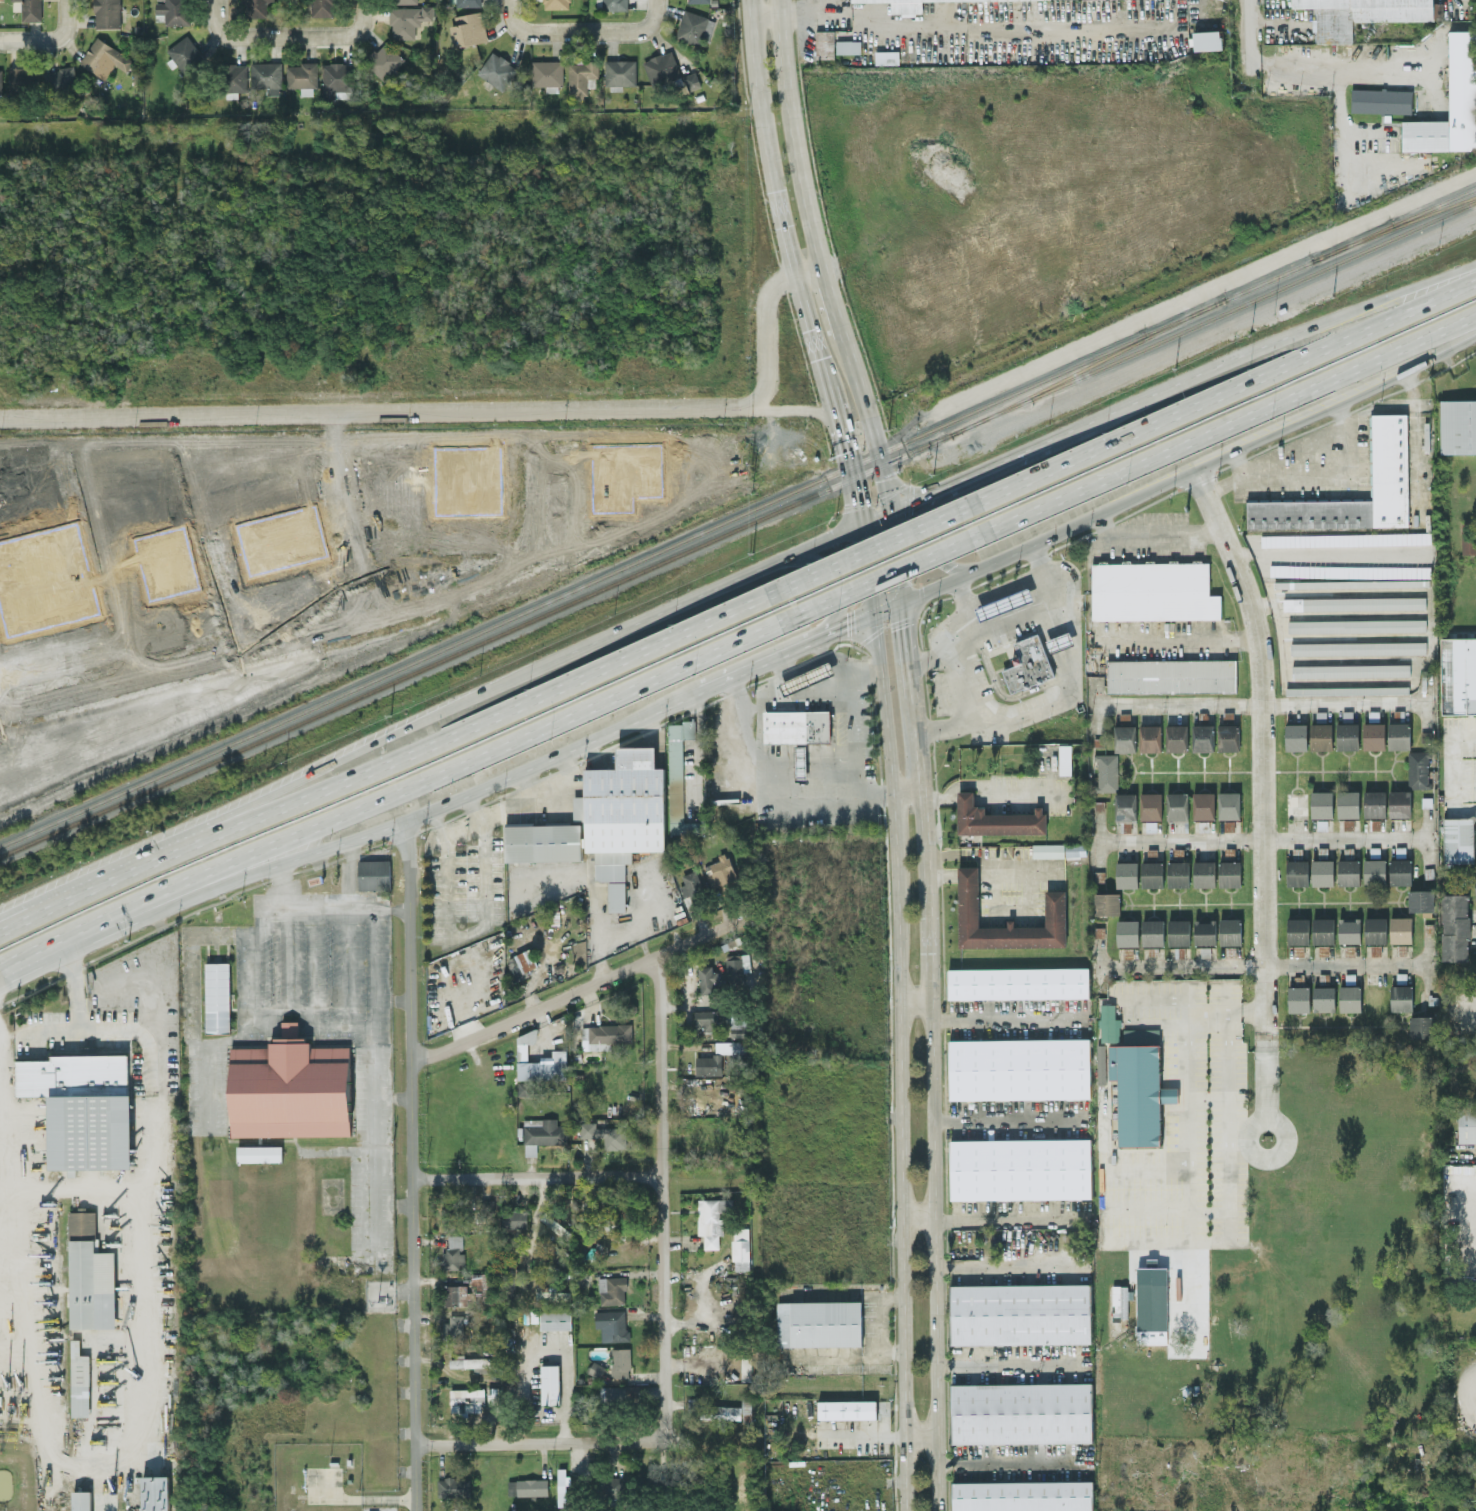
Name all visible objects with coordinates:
building: (696, 0)
building: (403, 1)
building: (464, 2)
building: (556, 3)
building: (611, 4)
building: (903, 6)
building: (322, 7)
building: (254, 8)
building: (28, 9)
building: (173, 11)
road: (1064, 11)
road: (764, 12)
building: (107, 13)
building: (1360, 15)
building: (407, 19)
road: (997, 23)
building: (695, 27)
building: (468, 28)
road: (585, 28)
road: (1249, 29)
road: (341, 34)
road: (240, 35)
road: (50, 37)
building: (1206, 40)
building: (824, 43)
building: (848, 46)
building: (183, 53)
building: (886, 56)
building: (104, 57)
building: (383, 60)
building: (661, 66)
road: (1349, 67)
building: (497, 69)
building: (619, 73)
building: (547, 74)
building: (580, 75)
building: (266, 76)
building: (302, 77)
building: (20, 79)
building: (336, 79)
building: (60, 80)
building: (691, 80)
building: (0, 81)
building: (1380, 100)
building: (1450, 103)
road: (1348, 123)
road: (792, 134)
road: (775, 196)
railway: (1394, 223)
railway: (1394, 227)
railway: (1269, 279)
road: (1390, 294)
road: (830, 300)
railway: (1214, 315)
railway: (1089, 365)
road: (1176, 382)
road: (1224, 392)
road: (464, 410)
road: (790, 410)
road: (869, 421)
road: (1229, 423)
building: (1457, 427)
road: (1266, 433)
road: (1292, 443)
building: (1393, 455)
road: (845, 457)
road: (1238, 462)
road: (968, 477)
road: (1314, 477)
traffic signals: (888, 513)
road: (873, 520)
traffic signals: (858, 527)
road: (1152, 534)
building: (1345, 538)
road: (936, 539)
building: (1468, 542)
road: (881, 547)
road: (893, 557)
road: (977, 566)
railway: (612, 570)
road: (865, 570)
road: (892, 573)
road: (1000, 586)
road: (712, 590)
building: (1155, 590)
road: (834, 592)
traffic signals: (899, 601)
building: (1354, 602)
road: (886, 607)
building: (1014, 610)
traffic signals: (873, 613)
road: (1021, 620)
building: (1356, 624)
road: (836, 628)
road: (1175, 640)
building: (1060, 642)
railway: (476, 643)
road: (904, 646)
road: (949, 647)
building: (1358, 647)
road: (833, 657)
building: (1031, 663)
road: (749, 666)
building: (1350, 669)
building: (1174, 674)
building: (1458, 674)
building: (806, 677)
building: (1346, 689)
road: (810, 690)
road: (1261, 699)
road: (1430, 699)
road: (1057, 700)
road: (1093, 703)
road: (760, 704)
road: (511, 706)
road: (961, 707)
building: (794, 726)
road: (1265, 731)
road: (396, 732)
building: (1321, 735)
building: (1347, 735)
building: (1374, 735)
building: (1399, 735)
building: (1203, 736)
building: (1228, 736)
building: (1296, 736)
building: (1125, 737)
building: (1150, 737)
building: (1176, 737)
road: (915, 740)
road: (488, 750)
road: (853, 750)
building: (1064, 758)
building: (800, 760)
building: (1418, 768)
building: (1106, 771)
road: (1453, 776)
building: (678, 777)
road: (767, 777)
road: (484, 781)
road: (981, 786)
road: (905, 790)
building: (1400, 802)
building: (1321, 803)
building: (1348, 803)
building: (1374, 803)
building: (1229, 804)
building: (1150, 805)
building: (1177, 805)
building: (1203, 805)
building: (1125, 806)
building: (622, 809)
building: (1000, 818)
road: (463, 829)
road: (1425, 834)
road: (1260, 837)
road: (1096, 839)
building: (1458, 839)
building: (543, 841)
building: (1058, 849)
road: (955, 854)
road: (985, 865)
road: (130, 869)
building: (720, 870)
building: (1400, 870)
building: (1297, 871)
building: (1322, 871)
building: (1348, 871)
building: (1374, 871)
building: (1204, 872)
building: (1229, 872)
building: (373, 873)
building: (1127, 873)
building: (1152, 873)
building: (1178, 873)
road: (221, 875)
road: (944, 875)
road: (972, 875)
road: (983, 875)
road: (926, 878)
building: (691, 882)
road: (281, 884)
building: (1475, 886)
building: (616, 895)
building: (1421, 899)
road: (1028, 901)
building: (1107, 903)
road: (348, 904)
building: (1059, 907)
road: (120, 911)
road: (595, 916)
road: (15, 923)
building: (1455, 926)
road: (467, 928)
road: (343, 929)
building: (1323, 929)
building: (1375, 929)
building: (1400, 929)
building: (1230, 930)
building: (1297, 930)
building: (1349, 930)
building: (1152, 931)
building: (1178, 931)
building: (1205, 931)
building: (1127, 932)
road: (239, 934)
road: (33, 951)
building: (522, 962)
road: (1431, 963)
road: (285, 964)
road: (313, 964)
road: (1097, 966)
road: (1264, 966)
building: (734, 971)
road: (253, 978)
building: (708, 978)
building: (1023, 981)
road: (578, 988)
building: (215, 996)
building: (1323, 996)
building: (1350, 997)
building: (1401, 997)
building: (1298, 998)
road: (392, 999)
road: (915, 1003)
road: (1467, 1014)
building: (705, 1018)
road: (1009, 1019)
building: (1109, 1022)
road: (313, 1023)
building: (738, 1023)
building: (1422, 1026)
building: (606, 1034)
building: (1140, 1035)
building: (718, 1056)
road: (206, 1060)
building: (539, 1060)
road: (900, 1061)
building: (1025, 1067)
road: (1267, 1071)
building: (736, 1080)
road: (373, 1086)
building: (525, 1087)
building: (287, 1088)
building: (1138, 1092)
building: (83, 1107)
road: (1013, 1122)
building: (1466, 1124)
building: (542, 1133)
building: (605, 1134)
road: (1474, 1151)
building: (259, 1152)
road: (413, 1164)
building: (1024, 1167)
road: (537, 1175)
road: (1190, 1179)
road: (660, 1195)
building: (487, 1205)
road: (536, 1215)
road: (1012, 1216)
road: (917, 1217)
building: (514, 1218)
building: (711, 1219)
building: (550, 1220)
road: (933, 1239)
building: (740, 1247)
building: (453, 1252)
road: (1010, 1265)
building: (511, 1266)
building: (90, 1274)
building: (482, 1286)
building: (612, 1289)
building: (551, 1293)
road: (1196, 1293)
building: (454, 1294)
building: (1025, 1312)
building: (1162, 1312)
building: (556, 1319)
building: (819, 1322)
building: (612, 1324)
building: (454, 1329)
building: (620, 1361)
building: (474, 1363)
road: (1012, 1365)
building: (596, 1368)
road: (138, 1369)
building: (79, 1380)
building: (550, 1383)
building: (612, 1393)
building: (494, 1394)
building: (693, 1402)
building: (746, 1407)
building: (847, 1408)
building: (720, 1411)
building: (1025, 1412)
road: (919, 1434)
road: (535, 1441)
road: (1013, 1462)
building: (453, 1485)
building: (562, 1485)
building: (527, 1486)
building: (611, 1486)
building: (155, 1492)
building: (1026, 1495)
building: (81, 1500)

